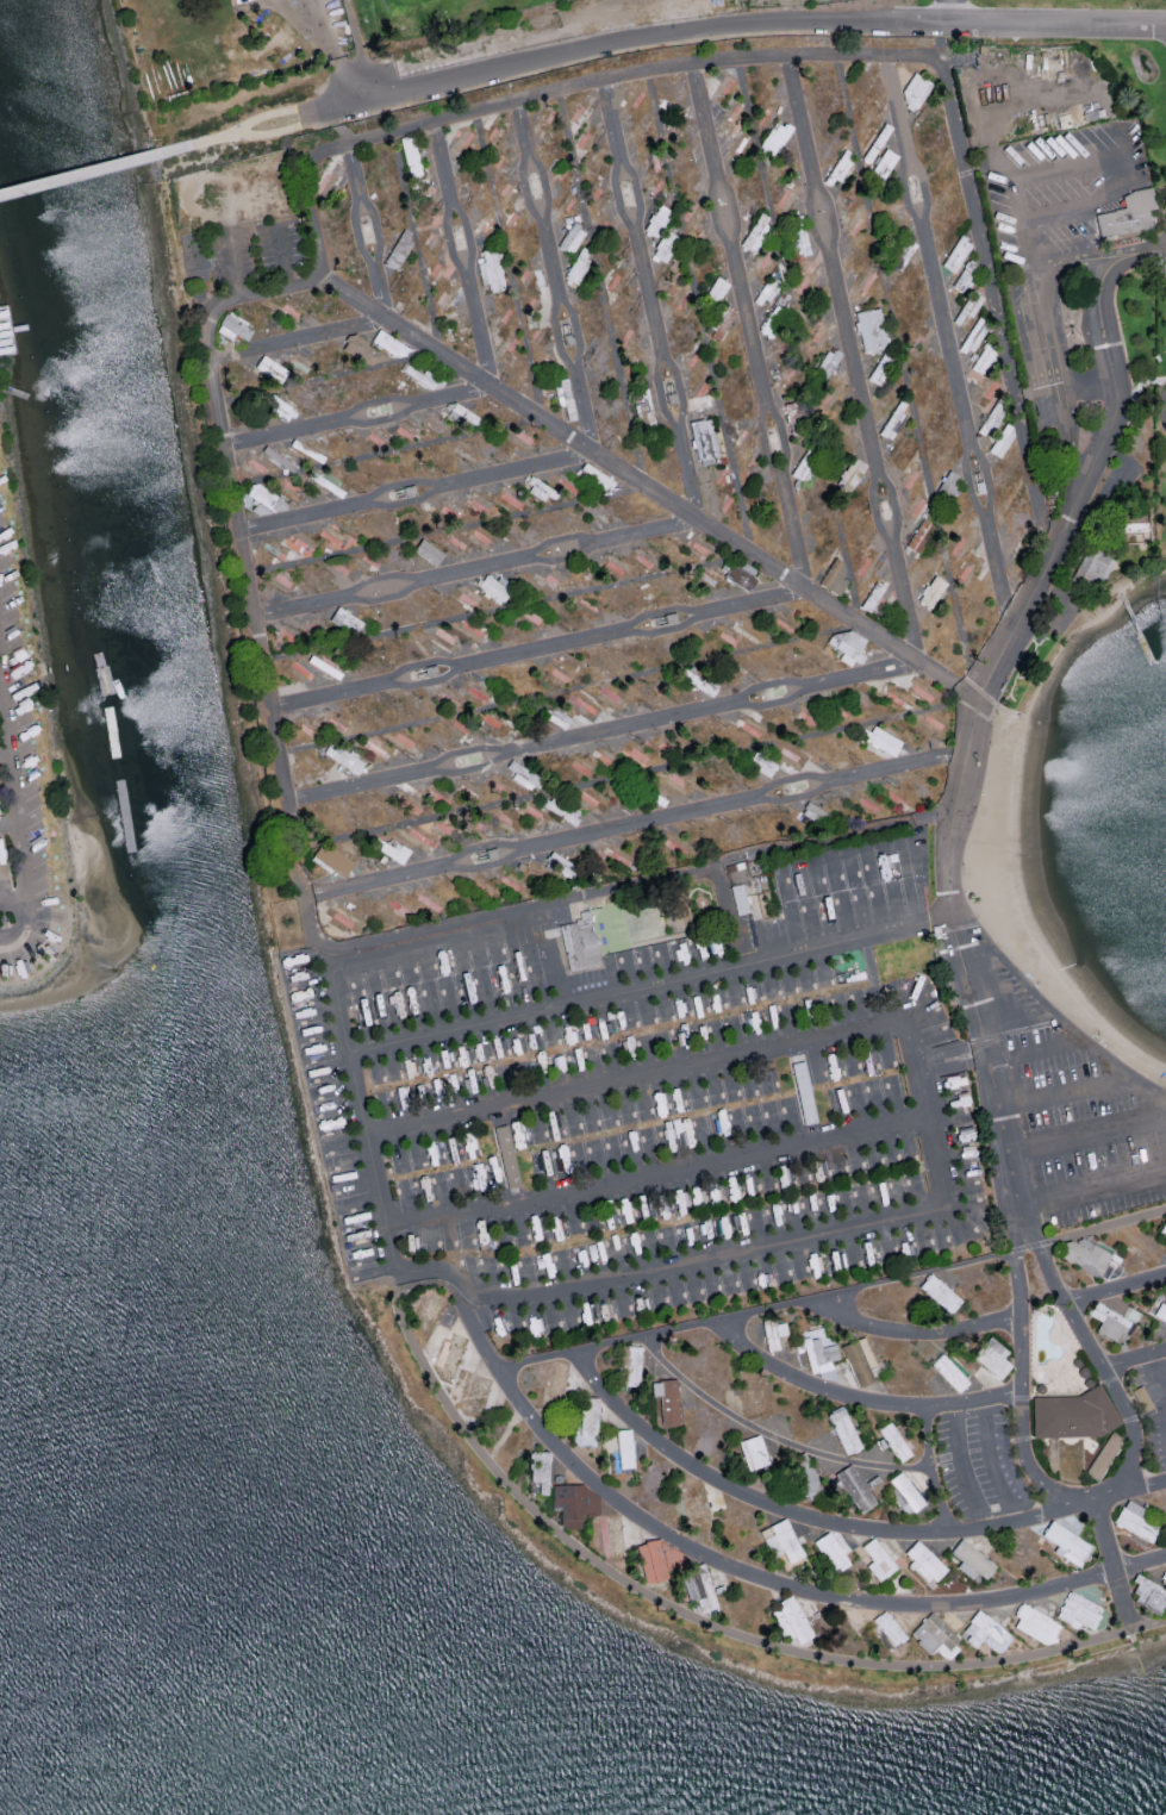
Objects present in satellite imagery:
park: (407, 1)
park: (997, 2)
park: (997, 2)
park: (454, 20)
park: (454, 20)
road: (763, 21)
road: (358, 49)
road: (330, 50)
road: (810, 56)
road: (341, 105)
road: (273, 113)
road: (279, 131)
road: (213, 139)
road: (1091, 150)
building: (884, 163)
road: (93, 170)
building: (1126, 217)
road: (364, 232)
building: (956, 252)
road: (281, 255)
road: (460, 256)
road: (232, 263)
building: (578, 266)
building: (966, 274)
road: (553, 279)
road: (649, 302)
building: (235, 326)
road: (746, 329)
building: (871, 329)
road: (1042, 338)
road: (295, 339)
building: (0, 345)
road: (946, 345)
road: (852, 361)
road: (903, 374)
road: (1165, 408)
building: (283, 410)
road: (356, 417)
road: (1108, 429)
building: (704, 441)
building: (846, 481)
road: (648, 491)
road: (414, 492)
building: (262, 498)
building: (921, 536)
building: (1093, 567)
road: (474, 569)
building: (835, 574)
building: (494, 587)
building: (933, 591)
road: (536, 650)
road: (4, 667)
road: (983, 692)
road: (603, 732)
building: (883, 740)
road: (8, 747)
building: (343, 757)
road: (24, 772)
road: (17, 824)
road: (635, 825)
building: (394, 850)
building: (332, 859)
road: (301, 891)
building: (740, 898)
road: (2, 910)
building: (581, 941)
road: (414, 950)
building: (662, 953)
road: (966, 980)
road: (648, 984)
road: (928, 1061)
road: (1120, 1071)
road: (654, 1073)
road: (1147, 1089)
building: (804, 1092)
parking lot: (1077, 1108)
road: (362, 1117)
road: (1086, 1135)
building: (506, 1155)
road: (936, 1155)
road: (660, 1171)
road: (1091, 1187)
building: (1162, 1229)
building: (956, 1235)
building: (1086, 1255)
road: (663, 1265)
road: (1114, 1286)
building: (940, 1292)
building: (675, 1293)
road: (831, 1293)
building: (1158, 1309)
building: (1109, 1321)
road: (917, 1331)
building: (774, 1334)
road: (478, 1337)
building: (818, 1349)
building: (992, 1356)
road: (1134, 1358)
building: (860, 1360)
road: (858, 1397)
building: (1141, 1397)
building: (667, 1399)
parking lot: (1151, 1410)
road: (1164, 1414)
building: (1073, 1416)
building: (843, 1429)
road: (769, 1435)
building: (894, 1440)
building: (624, 1447)
building: (753, 1451)
building: (1104, 1457)
road: (991, 1461)
parking lot: (981, 1464)
road: (961, 1467)
road: (929, 1468)
building: (540, 1471)
building: (806, 1474)
building: (855, 1487)
building: (906, 1490)
road: (1092, 1497)
building: (574, 1503)
building: (1135, 1520)
road: (841, 1524)
building: (781, 1540)
building: (1067, 1542)
building: (831, 1551)
building: (656, 1559)
building: (878, 1559)
building: (972, 1559)
building: (923, 1561)
road: (1111, 1564)
road: (793, 1586)
building: (702, 1591)
building: (1149, 1593)
road: (673, 1608)
building: (1079, 1610)
building: (791, 1618)
building: (1034, 1622)
building: (890, 1627)
building: (986, 1632)
building: (935, 1635)

